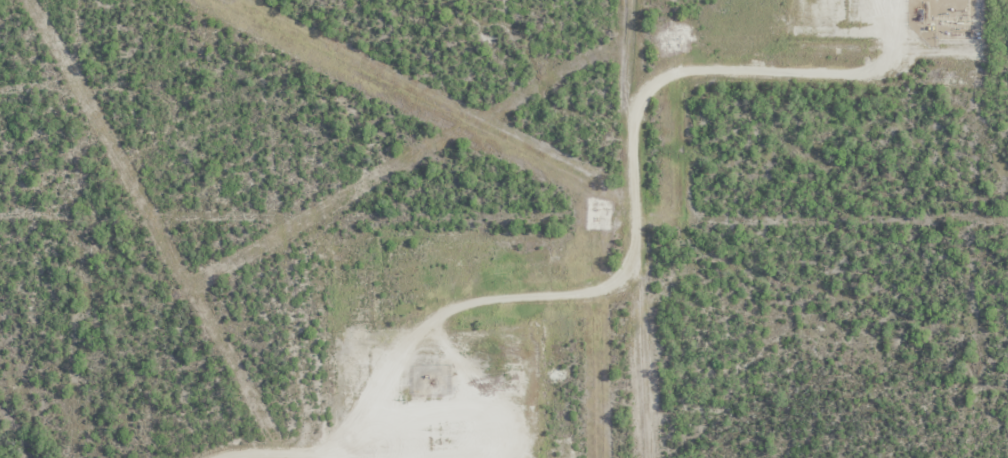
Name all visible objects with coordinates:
road: (603, 279)
petroleum well: (436, 384)

